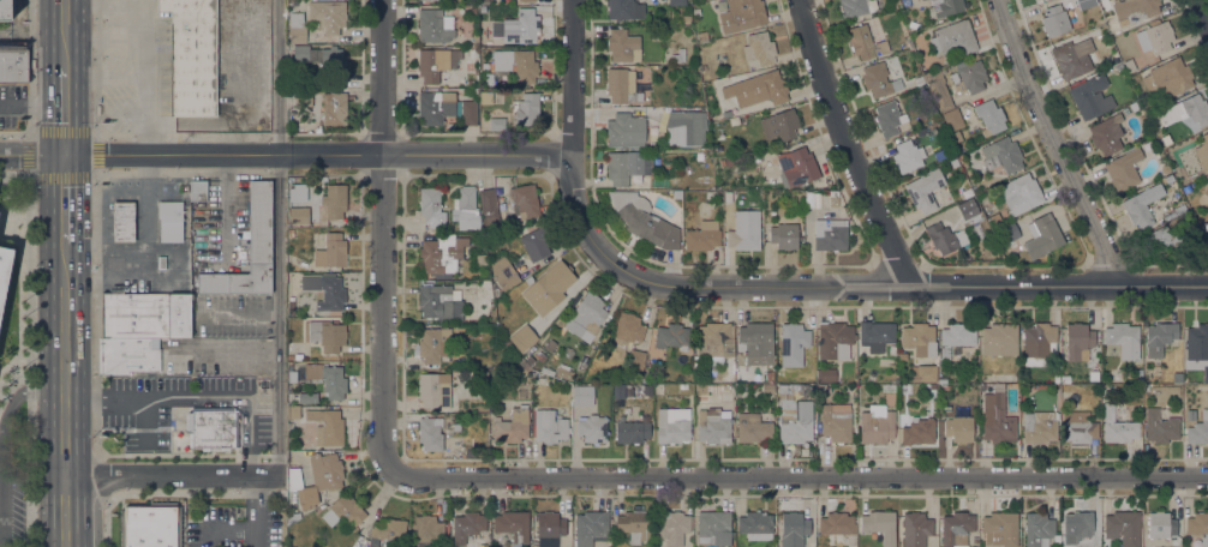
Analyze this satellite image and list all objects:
building: (527, 0)
building: (677, 2)
building: (856, 7)
building: (945, 7)
road: (1203, 8)
building: (5, 10)
building: (624, 10)
building: (1134, 10)
building: (473, 11)
building: (328, 14)
building: (742, 14)
building: (686, 19)
building: (1054, 20)
building: (435, 25)
building: (297, 28)
building: (521, 28)
road: (49, 32)
building: (701, 36)
building: (1155, 36)
building: (476, 38)
building: (953, 38)
building: (863, 42)
building: (909, 43)
building: (622, 46)
building: (759, 48)
building: (473, 52)
building: (301, 53)
building: (678, 55)
building: (192, 56)
building: (1075, 58)
building: (329, 59)
building: (13, 62)
building: (436, 62)
building: (1129, 65)
road: (32, 66)
road: (95, 66)
building: (525, 66)
building: (969, 76)
road: (78, 77)
road: (575, 77)
building: (920, 79)
building: (1167, 79)
building: (879, 80)
building: (621, 86)
building: (758, 89)
building: (938, 90)
building: (1090, 96)
building: (303, 97)
road: (24, 106)
building: (435, 107)
building: (1134, 107)
building: (334, 109)
building: (526, 109)
road: (49, 110)
building: (1185, 110)
building: (468, 113)
building: (726, 114)
building: (989, 115)
building: (889, 118)
building: (952, 119)
building: (497, 124)
building: (779, 125)
building: (684, 127)
building: (626, 128)
road: (30, 134)
building: (910, 134)
building: (1106, 134)
building: (955, 137)
road: (1058, 144)
road: (850, 146)
building: (1202, 152)
road: (24, 155)
road: (62, 155)
traffic signals: (78, 155)
building: (1001, 155)
traffic signals: (49, 156)
building: (905, 157)
building: (961, 157)
building: (730, 160)
building: (953, 162)
building: (627, 166)
building: (797, 167)
building: (680, 168)
building: (1123, 168)
building: (1170, 179)
building: (1207, 186)
building: (198, 190)
building: (926, 191)
building: (298, 192)
building: (677, 194)
building: (712, 194)
building: (1021, 194)
building: (730, 196)
road: (79, 198)
building: (832, 199)
building: (335, 200)
building: (525, 200)
building: (430, 205)
building: (1142, 205)
building: (466, 209)
building: (1179, 209)
building: (489, 210)
building: (969, 211)
building: (299, 216)
building: (640, 216)
building: (995, 220)
building: (171, 221)
building: (124, 222)
building: (512, 226)
building: (1206, 226)
building: (744, 230)
building: (291, 233)
road: (387, 233)
building: (830, 234)
building: (1009, 234)
building: (784, 235)
building: (702, 236)
building: (1042, 236)
road: (283, 238)
building: (945, 238)
building: (1162, 239)
building: (536, 245)
building: (249, 250)
building: (331, 252)
building: (442, 254)
road: (608, 256)
building: (480, 259)
building: (161, 263)
building: (4, 271)
railway: (64, 273)
building: (504, 273)
building: (530, 279)
building: (548, 287)
building: (325, 290)
building: (438, 302)
building: (291, 305)
building: (145, 314)
road: (95, 315)
building: (586, 315)
building: (627, 331)
building: (325, 335)
building: (671, 336)
building: (875, 336)
building: (1078, 336)
building: (524, 337)
building: (1159, 337)
building: (713, 338)
building: (795, 338)
building: (956, 338)
building: (920, 339)
building: (999, 339)
building: (1123, 339)
building: (835, 341)
building: (506, 342)
building: (758, 342)
building: (432, 343)
building: (551, 344)
building: (1039, 344)
building: (1197, 349)
road: (49, 351)
road: (227, 351)
building: (126, 355)
building: (298, 356)
building: (540, 356)
road: (78, 359)
building: (530, 360)
road: (30, 361)
building: (635, 361)
building: (524, 363)
building: (779, 369)
building: (546, 371)
building: (564, 372)
building: (925, 373)
building: (730, 374)
building: (826, 374)
building: (483, 375)
building: (770, 375)
building: (1116, 375)
building: (1140, 377)
building: (327, 379)
building: (1064, 379)
building: (943, 380)
building: (683, 386)
building: (934, 386)
building: (981, 387)
building: (767, 389)
building: (788, 389)
building: (944, 389)
building: (433, 390)
building: (647, 390)
building: (658, 390)
building: (821, 390)
building: (472, 391)
building: (618, 391)
building: (582, 396)
building: (307, 397)
road: (183, 399)
building: (946, 408)
building: (293, 413)
building: (1190, 415)
building: (997, 417)
building: (794, 421)
building: (836, 422)
building: (877, 425)
building: (512, 426)
building: (550, 426)
building: (672, 426)
building: (713, 426)
building: (328, 427)
building: (1039, 427)
building: (1118, 427)
building: (1160, 427)
building: (213, 428)
building: (592, 428)
building: (753, 428)
building: (1078, 428)
building: (451, 429)
building: (959, 429)
building: (1197, 431)
building: (632, 432)
building: (919, 432)
building: (430, 433)
building: (453, 444)
road: (2, 447)
road: (5, 453)
building: (470, 453)
road: (800, 470)
road: (64, 475)
road: (180, 475)
road: (102, 476)
building: (316, 479)
parking lot: (12, 499)
road: (78, 511)
road: (256, 511)
building: (343, 511)
building: (292, 517)
road: (107, 521)
building: (153, 524)
building: (513, 525)
building: (550, 525)
building: (634, 525)
building: (755, 525)
building: (838, 525)
building: (880, 525)
building: (1160, 525)
building: (1198, 525)
building: (468, 527)
building: (590, 527)
building: (672, 527)
building: (1077, 527)
building: (1123, 527)
building: (957, 528)
building: (388, 529)
building: (426, 529)
building: (713, 529)
building: (794, 529)
building: (915, 529)
building: (1000, 529)
building: (1037, 529)
building: (1057, 540)
building: (959, 546)

